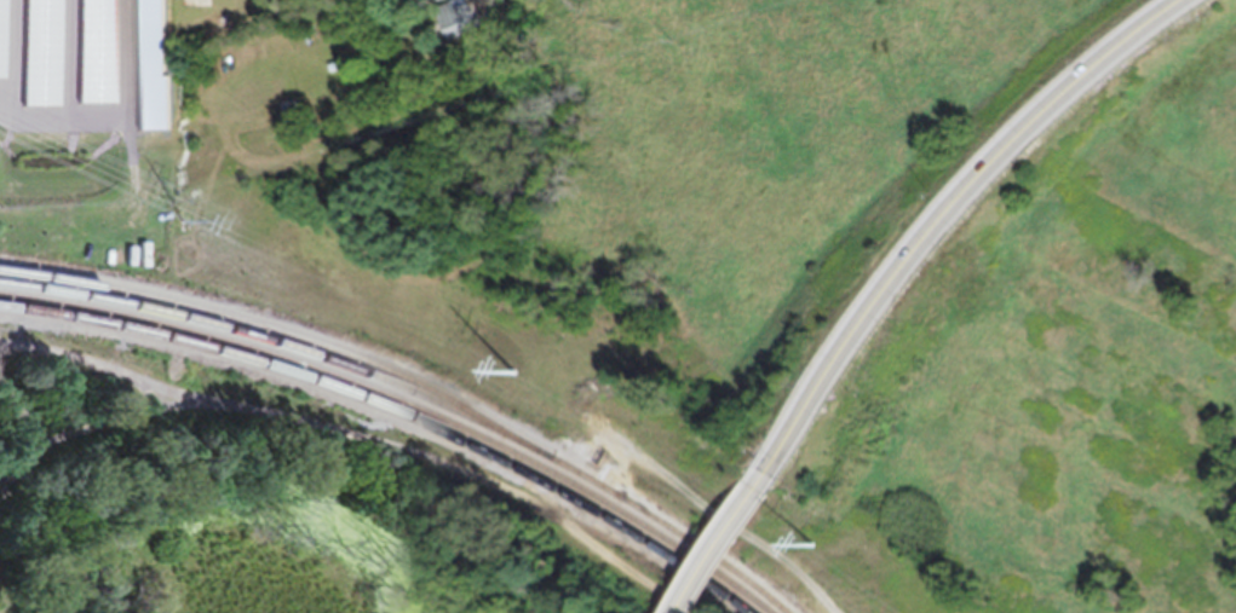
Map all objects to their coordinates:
building: (435, 4)
road: (939, 221)
power tower: (182, 230)
railway: (289, 343)
power tower: (510, 380)
railway: (409, 399)
railway: (398, 409)
railway: (387, 416)
road: (126, 424)
road: (355, 444)
road: (30, 463)
road: (711, 553)
power tower: (806, 554)

